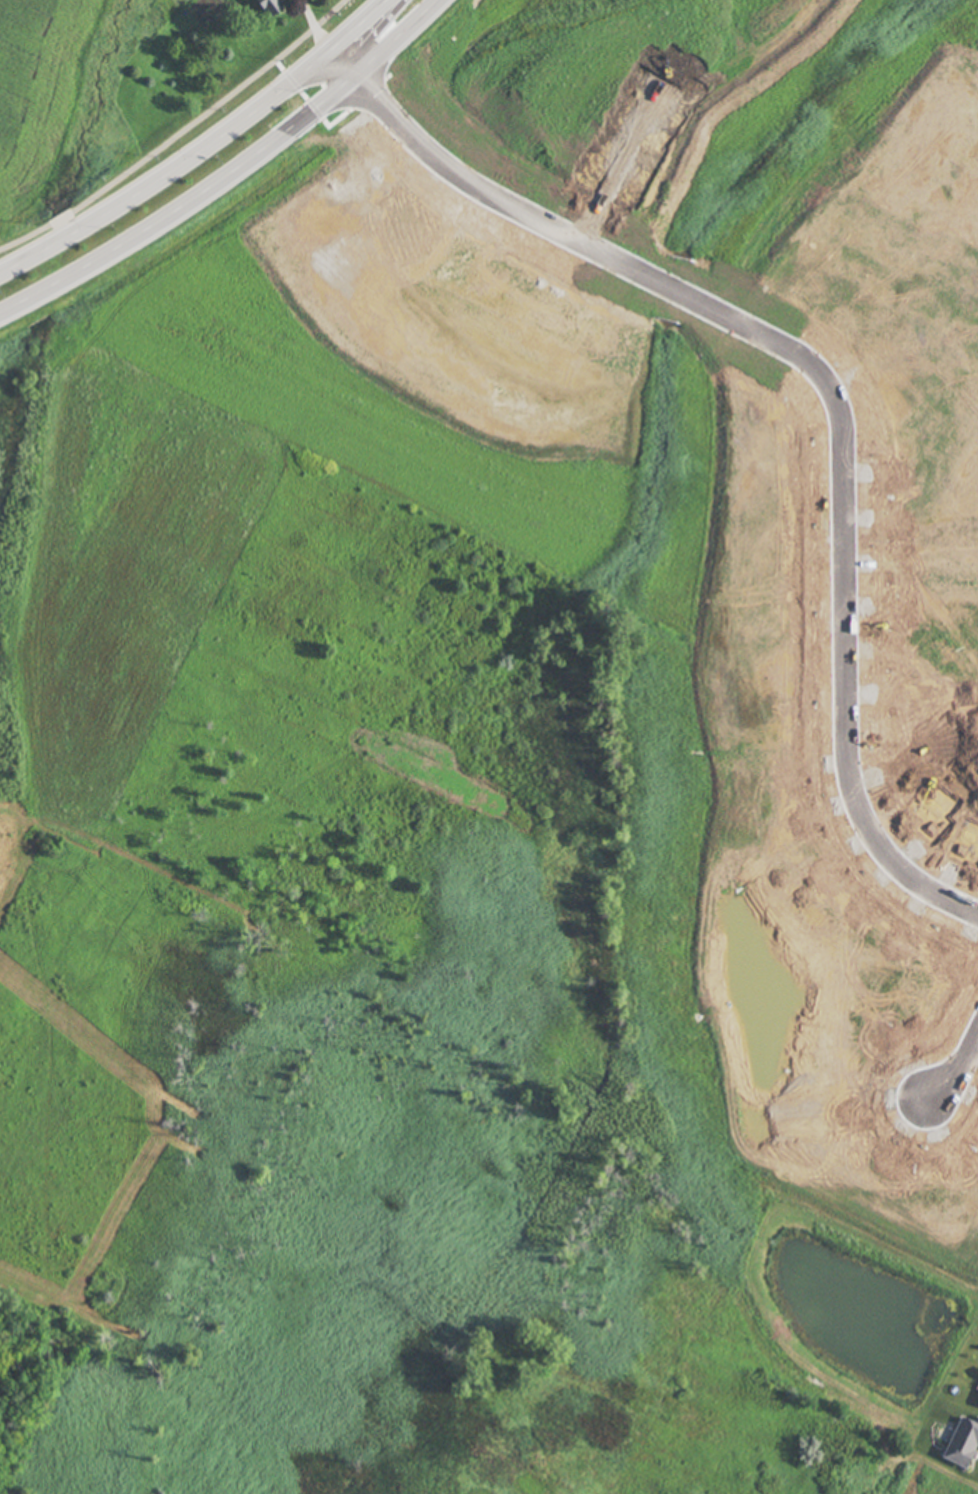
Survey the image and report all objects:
building: (273, 6)
road: (395, 13)
road: (313, 28)
crop: (53, 95)
road: (178, 134)
road: (205, 153)
road: (229, 172)
road: (828, 378)
crop: (273, 970)
road: (957, 1067)
park: (792, 1360)
park: (156, 1441)
building: (963, 1447)

